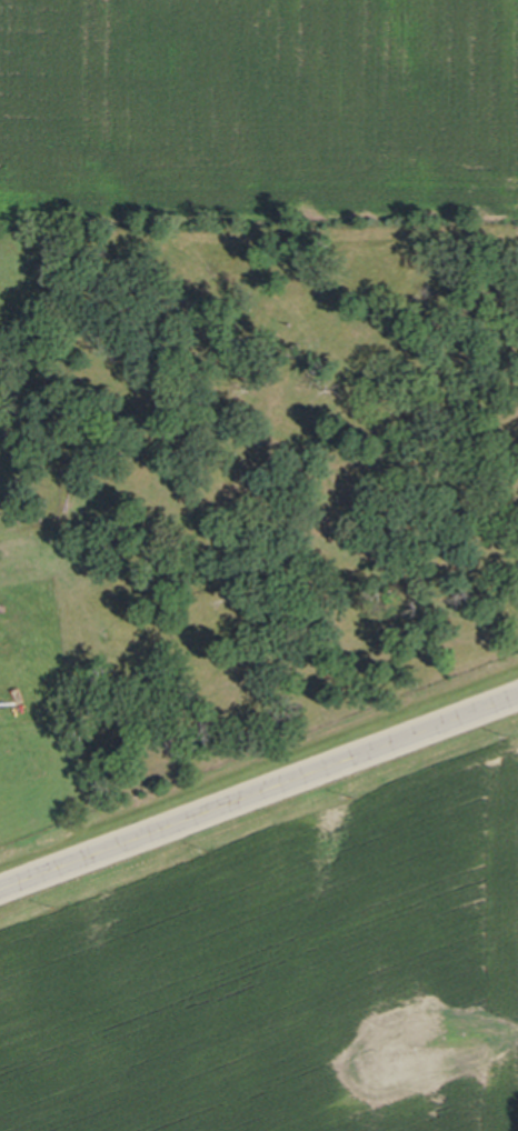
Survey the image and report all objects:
road: (259, 794)

